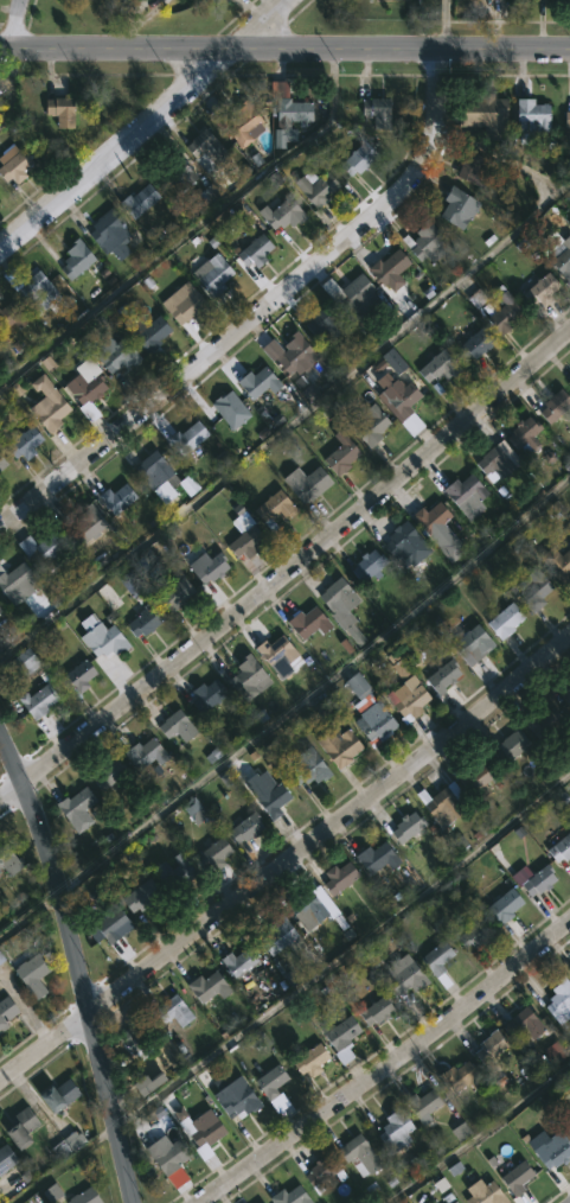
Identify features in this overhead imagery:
building: (392, 0)
road: (17, 24)
road: (443, 26)
road: (284, 49)
building: (287, 106)
building: (475, 109)
building: (64, 110)
building: (373, 112)
building: (527, 115)
building: (565, 117)
building: (232, 122)
road: (143, 125)
building: (203, 147)
building: (354, 158)
building: (15, 164)
building: (469, 170)
building: (173, 178)
building: (314, 187)
building: (140, 200)
building: (455, 206)
building: (277, 214)
building: (113, 234)
building: (423, 244)
building: (251, 250)
building: (561, 256)
building: (79, 259)
building: (385, 270)
building: (211, 275)
building: (40, 291)
building: (537, 292)
building: (352, 297)
building: (182, 306)
road: (260, 312)
building: (499, 312)
building: (12, 317)
building: (320, 323)
building: (149, 337)
building: (473, 344)
building: (286, 352)
building: (123, 355)
building: (435, 367)
building: (254, 383)
building: (568, 383)
building: (92, 395)
building: (552, 405)
building: (216, 407)
building: (403, 407)
building: (56, 412)
building: (365, 425)
building: (521, 434)
building: (186, 438)
building: (28, 444)
building: (337, 454)
building: (495, 459)
building: (4, 463)
building: (160, 476)
building: (303, 483)
building: (462, 496)
building: (115, 498)
building: (270, 510)
building: (427, 517)
building: (87, 523)
building: (396, 539)
building: (242, 542)
building: (46, 549)
building: (555, 564)
building: (364, 565)
building: (205, 567)
road: (288, 568)
building: (17, 580)
building: (531, 591)
building: (175, 592)
building: (334, 596)
building: (1, 611)
building: (146, 619)
building: (501, 620)
building: (303, 623)
building: (351, 630)
building: (161, 632)
building: (108, 641)
building: (467, 644)
building: (274, 657)
building: (24, 663)
building: (397, 664)
building: (438, 677)
building: (81, 679)
building: (245, 679)
building: (203, 695)
building: (404, 699)
building: (568, 699)
building: (43, 702)
building: (324, 709)
building: (366, 712)
building: (536, 724)
building: (175, 727)
building: (335, 746)
building: (505, 749)
building: (141, 753)
building: (305, 766)
building: (105, 774)
building: (474, 779)
building: (271, 800)
building: (442, 804)
building: (75, 808)
building: (193, 810)
building: (242, 827)
building: (403, 827)
building: (559, 847)
building: (210, 853)
building: (9, 859)
building: (372, 859)
road: (288, 861)
building: (171, 872)
building: (335, 878)
building: (534, 879)
building: (140, 895)
building: (500, 905)
building: (305, 906)
building: (110, 925)
building: (274, 934)
building: (472, 934)
road: (346, 949)
building: (2, 956)
building: (235, 961)
building: (435, 961)
road: (78, 966)
building: (568, 969)
building: (36, 974)
building: (401, 975)
building: (205, 986)
building: (557, 999)
building: (373, 1008)
building: (169, 1010)
building: (7, 1011)
building: (523, 1021)
building: (339, 1037)
building: (136, 1040)
building: (487, 1045)
building: (555, 1052)
building: (307, 1059)
road: (388, 1065)
building: (455, 1076)
building: (268, 1081)
building: (148, 1083)
building: (63, 1094)
building: (229, 1094)
building: (418, 1106)
building: (564, 1120)
building: (26, 1126)
building: (200, 1127)
building: (391, 1129)
road: (476, 1132)
building: (69, 1145)
building: (549, 1150)
building: (356, 1154)
building: (168, 1156)
building: (7, 1158)
building: (320, 1172)
building: (517, 1178)
building: (479, 1191)
building: (51, 1192)
building: (88, 1196)
building: (286, 1196)
building: (256, 1202)
building: (450, 1202)
building: (454, 1202)

